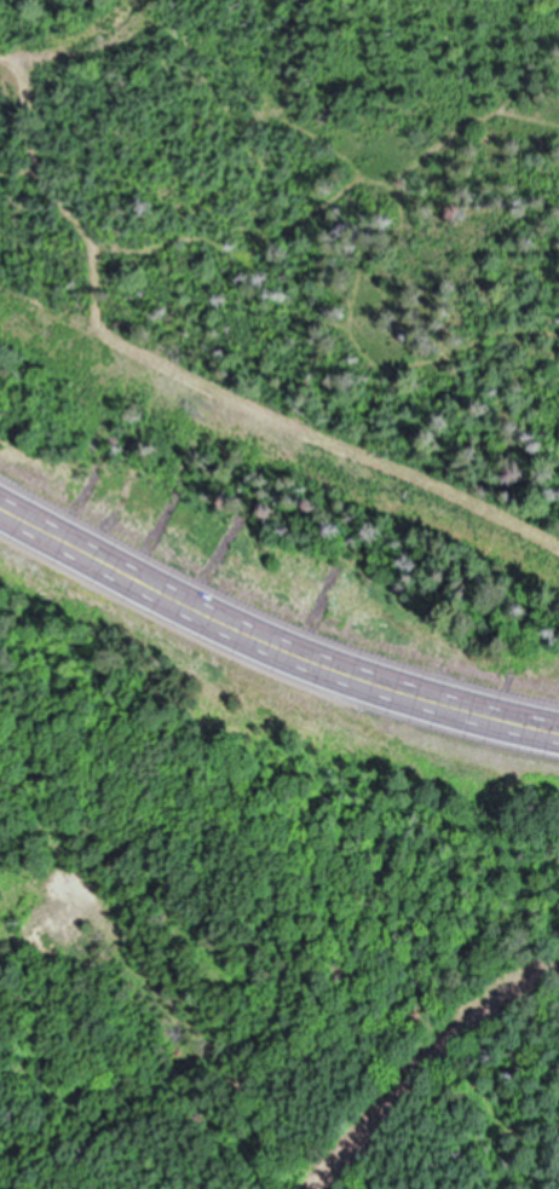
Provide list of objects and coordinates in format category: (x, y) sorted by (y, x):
road: (270, 642)
road: (433, 1068)

